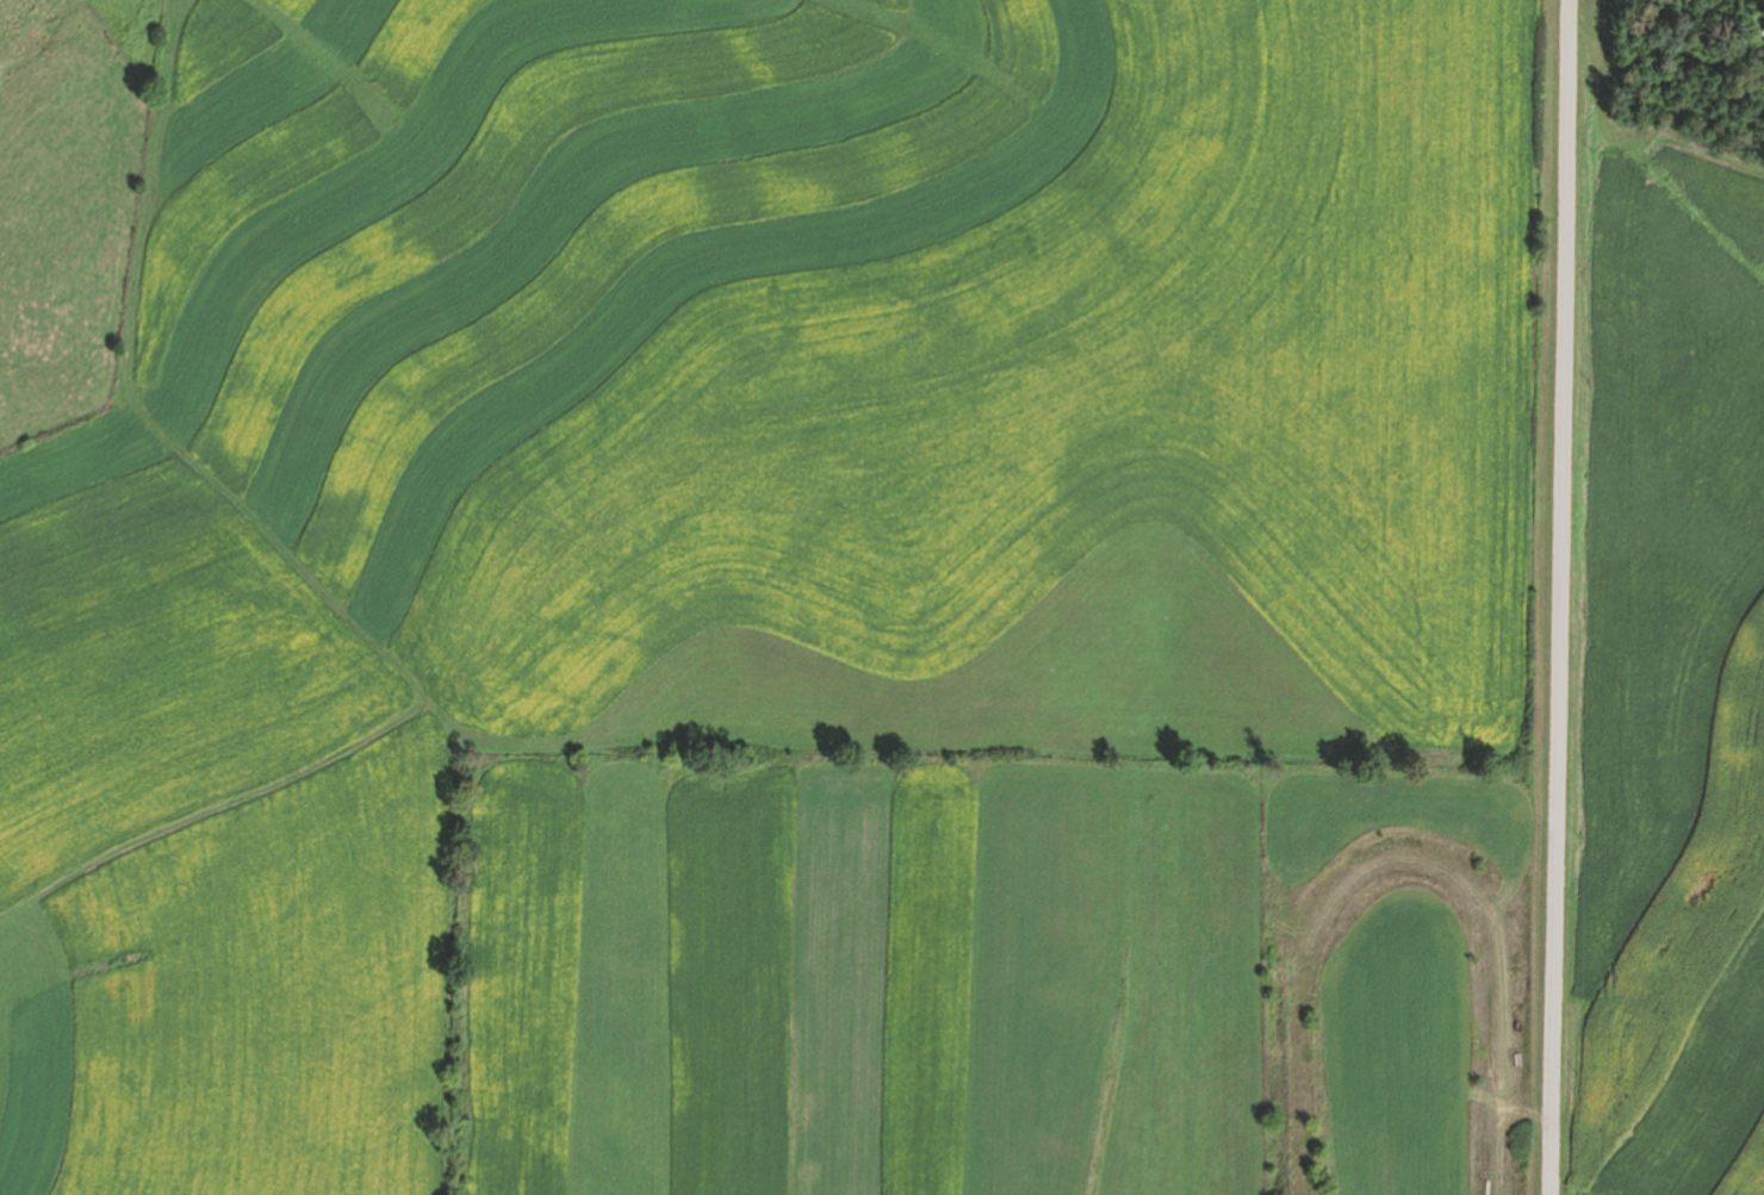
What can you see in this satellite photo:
road: (1561, 597)

